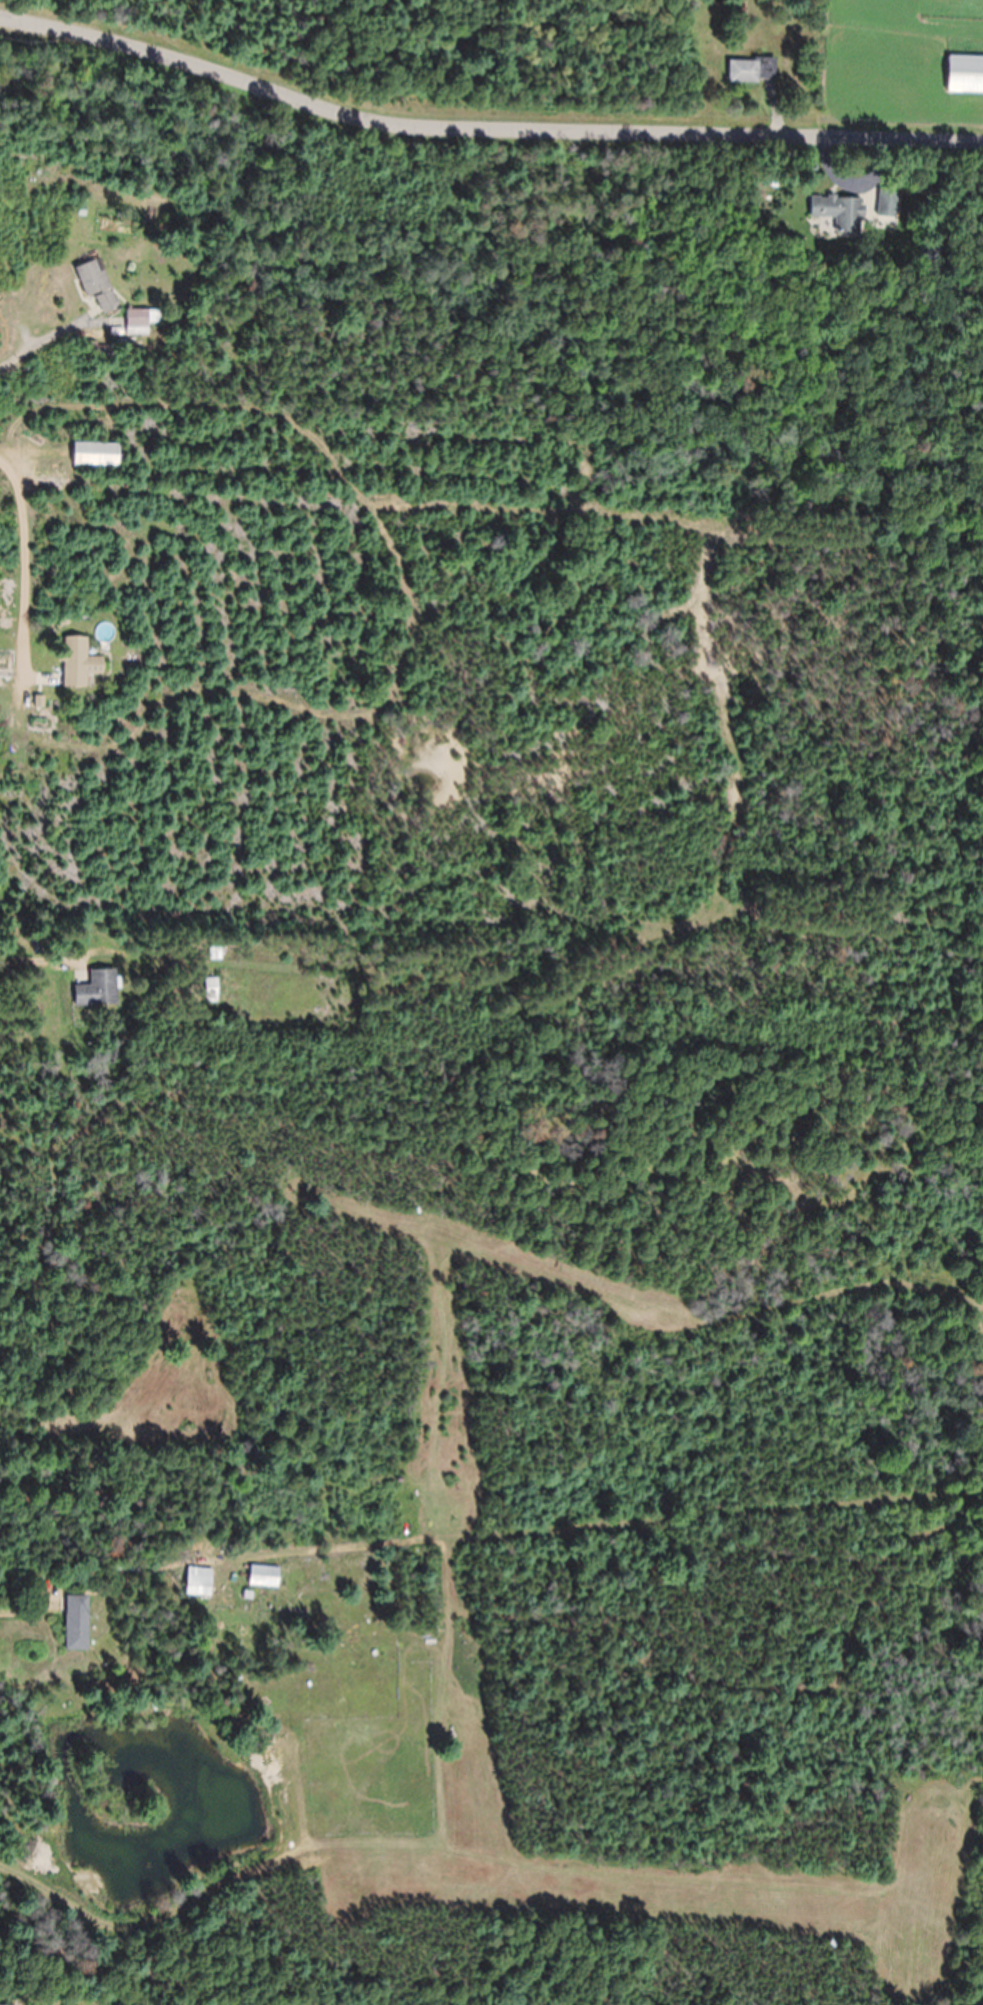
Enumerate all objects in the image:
building: (752, 69)
building: (965, 74)
road: (488, 99)
building: (839, 212)
building: (96, 285)
building: (140, 321)
building: (98, 351)
building: (95, 454)
building: (78, 662)
building: (97, 990)
building: (210, 990)
building: (206, 1520)
building: (122, 1563)
building: (263, 1576)
building: (198, 1581)
building: (76, 1622)

